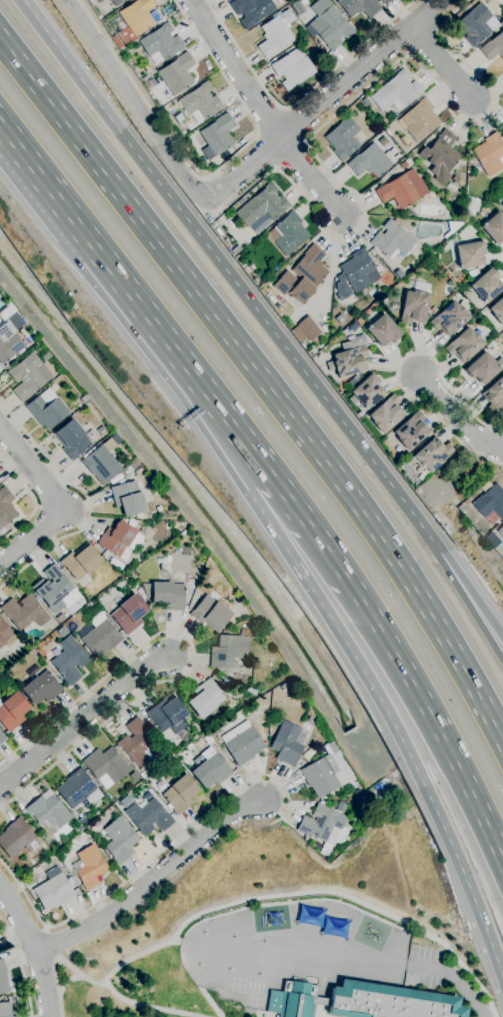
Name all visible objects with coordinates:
building: (93, 2)
building: (117, 2)
building: (283, 2)
building: (385, 2)
building: (297, 7)
building: (359, 7)
building: (251, 10)
building: (135, 20)
building: (329, 24)
building: (477, 25)
building: (276, 34)
building: (116, 42)
building: (161, 44)
building: (493, 47)
road: (441, 63)
road: (233, 68)
building: (293, 69)
building: (176, 75)
building: (399, 90)
road: (298, 99)
road: (322, 99)
road: (132, 101)
building: (200, 103)
road: (331, 118)
building: (420, 120)
building: (502, 125)
building: (218, 134)
building: (343, 139)
building: (440, 154)
building: (490, 154)
building: (369, 162)
building: (405, 164)
road: (309, 175)
road: (208, 177)
road: (203, 179)
building: (457, 181)
road: (49, 188)
road: (203, 190)
building: (403, 190)
building: (472, 205)
building: (262, 206)
building: (502, 206)
building: (452, 228)
building: (494, 228)
building: (288, 234)
building: (392, 240)
building: (235, 251)
building: (470, 255)
road: (225, 269)
building: (473, 273)
building: (355, 274)
building: (399, 274)
building: (303, 276)
building: (486, 285)
building: (414, 307)
building: (498, 311)
building: (7, 312)
building: (340, 319)
building: (450, 319)
building: (360, 321)
building: (382, 329)
building: (305, 330)
building: (8, 343)
building: (464, 345)
road: (174, 350)
building: (45, 357)
building: (350, 357)
building: (482, 368)
road: (398, 371)
building: (29, 376)
road: (264, 381)
building: (367, 392)
building: (494, 396)
building: (84, 400)
building: (46, 409)
building: (360, 414)
building: (387, 414)
road: (456, 418)
building: (411, 430)
building: (101, 431)
building: (72, 439)
building: (433, 454)
building: (101, 465)
road: (32, 469)
road: (249, 469)
road: (276, 480)
building: (413, 484)
building: (130, 496)
road: (86, 500)
road: (33, 501)
building: (489, 503)
building: (5, 510)
building: (500, 532)
road: (32, 537)
building: (117, 540)
building: (81, 562)
road: (468, 587)
building: (53, 588)
building: (168, 596)
road: (465, 601)
building: (24, 612)
building: (210, 612)
building: (129, 614)
building: (62, 632)
building: (5, 634)
building: (100, 637)
street lamp: (158, 638)
building: (228, 650)
road: (193, 656)
building: (69, 660)
road: (411, 682)
building: (41, 689)
building: (250, 691)
building: (205, 699)
building: (12, 712)
building: (167, 716)
road: (80, 719)
road: (392, 724)
building: (2, 738)
building: (136, 741)
building: (242, 743)
building: (287, 744)
building: (172, 760)
building: (106, 767)
building: (147, 768)
building: (211, 769)
building: (324, 776)
building: (134, 777)
building: (76, 788)
building: (180, 794)
building: (126, 802)
building: (337, 806)
building: (48, 814)
building: (148, 817)
building: (369, 821)
building: (324, 827)
building: (77, 828)
building: (17, 839)
building: (120, 840)
road: (152, 859)
building: (90, 867)
road: (153, 881)
building: (53, 890)
road: (52, 941)
road: (34, 948)
park: (134, 963)
road: (20, 967)
building: (3, 978)
road: (453, 980)
road: (55, 985)
building: (293, 1000)
building: (389, 1002)
building: (5, 1010)
building: (14, 1016)

